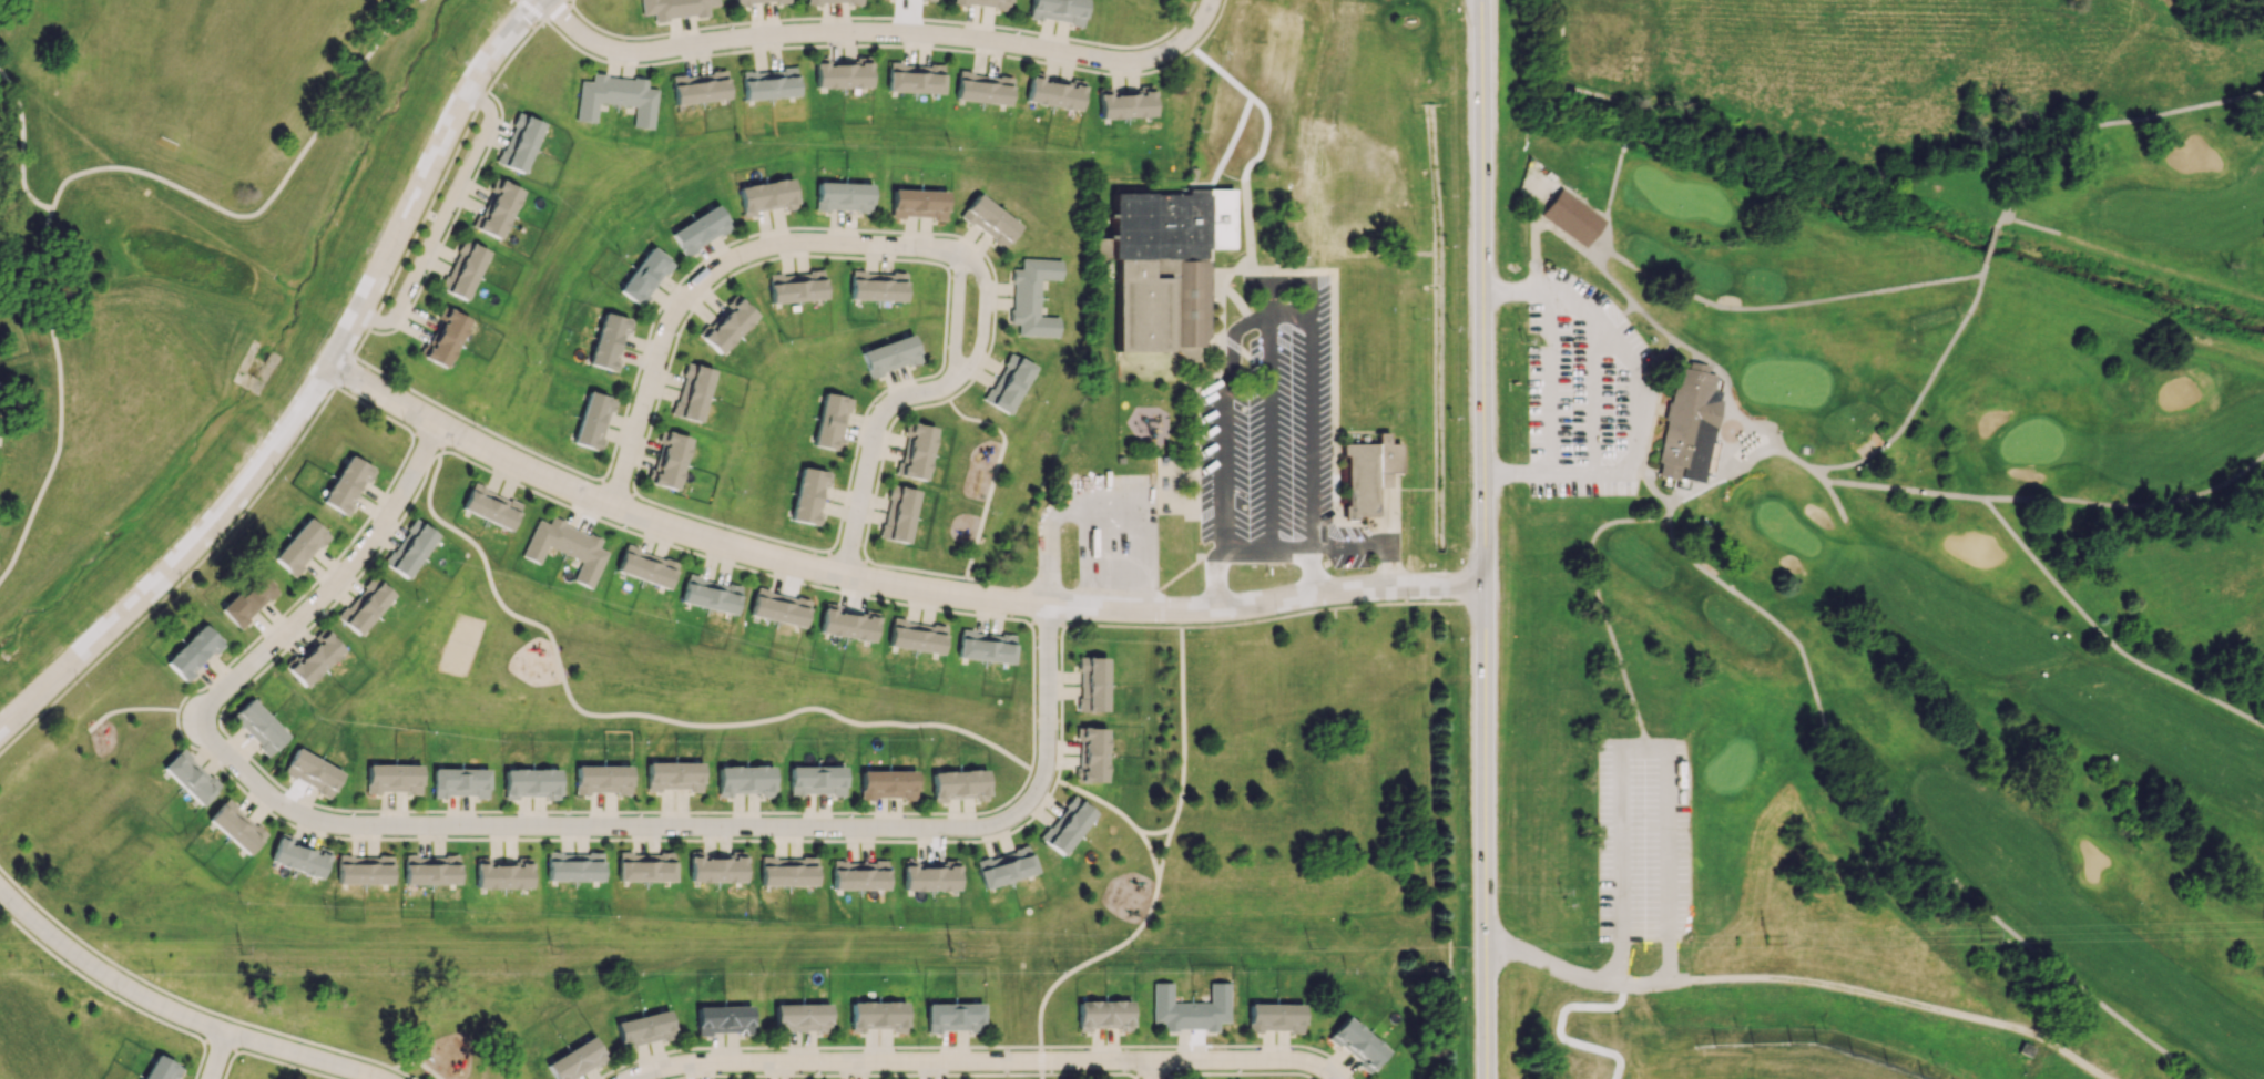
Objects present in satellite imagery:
building: (930, 0)
building: (757, 1)
building: (833, 1)
building: (982, 3)
building: (675, 8)
road: (531, 10)
road: (555, 10)
building: (1057, 10)
road: (885, 17)
road: (883, 31)
road: (894, 45)
park: (201, 72)
building: (1254, 72)
building: (840, 74)
road: (1138, 75)
building: (914, 81)
road: (1557, 82)
building: (768, 83)
building: (698, 88)
building: (982, 88)
road: (1225, 91)
building: (1053, 93)
building: (616, 97)
building: (1125, 104)
road: (2114, 121)
road: (1626, 135)
road: (21, 143)
building: (518, 144)
building: (1190, 173)
road: (424, 175)
road: (439, 182)
building: (765, 196)
building: (842, 196)
road: (263, 203)
building: (917, 203)
road: (1605, 203)
building: (494, 212)
building: (1570, 218)
road: (439, 219)
road: (1999, 219)
building: (988, 220)
road: (2029, 224)
road: (794, 227)
building: (698, 229)
road: (1989, 244)
road: (1601, 245)
road: (1248, 250)
road: (1533, 250)
building: (1162, 267)
road: (710, 269)
building: (462, 274)
building: (644, 276)
road: (1609, 278)
road: (1294, 280)
building: (876, 286)
building: (795, 287)
road: (1507, 290)
road: (1541, 291)
building: (1032, 297)
road: (1727, 297)
road: (1794, 302)
road: (1289, 312)
road: (1618, 315)
road: (956, 320)
road: (1652, 321)
road: (982, 322)
building: (726, 325)
building: (442, 339)
building: (609, 341)
road: (1233, 342)
building: (889, 356)
road: (1656, 358)
road: (1712, 367)
road: (1335, 368)
road: (343, 370)
road: (973, 370)
road: (1549, 382)
building: (1008, 383)
building: (692, 392)
parking lot: (1585, 393)
road: (1591, 393)
road: (1917, 395)
road: (59, 397)
road: (1636, 399)
road: (374, 408)
building: (592, 420)
building: (830, 421)
road: (1757, 423)
building: (1684, 425)
road: (1268, 433)
road: (1311, 436)
road: (425, 441)
road: (1716, 442)
parking lot: (1275, 448)
building: (917, 451)
road: (868, 455)
road: (1791, 455)
building: (669, 460)
road: (1742, 464)
road: (1222, 472)
road: (993, 473)
road: (1516, 473)
road: (1816, 473)
building: (1364, 476)
building: (346, 484)
road: (1649, 484)
road: (582, 487)
road: (614, 489)
road: (1903, 489)
road: (1686, 491)
building: (808, 495)
road: (1835, 502)
road: (2129, 504)
building: (489, 506)
road: (869, 508)
road: (574, 510)
road: (1391, 510)
building: (898, 513)
park: (1891, 516)
parking lot: (1110, 526)
road: (1347, 534)
road: (1482, 538)
building: (299, 546)
road: (1350, 546)
building: (565, 547)
building: (409, 548)
road: (1265, 554)
road: (702, 555)
road: (177, 557)
road: (1390, 565)
building: (645, 566)
road: (1185, 566)
road: (1309, 573)
road: (976, 578)
road: (181, 580)
road: (1213, 580)
road: (884, 583)
road: (332, 585)
road: (986, 589)
building: (708, 594)
building: (247, 599)
road: (1599, 603)
building: (365, 605)
road: (1161, 605)
building: (778, 607)
road: (1330, 607)
road: (982, 608)
road: (1006, 617)
road: (1047, 621)
road: (1031, 623)
building: (846, 624)
road: (981, 624)
road: (1162, 624)
road: (1061, 625)
road: (1171, 627)
road: (2103, 635)
building: (916, 636)
park: (459, 645)
building: (985, 646)
building: (193, 652)
building: (313, 658)
road: (1047, 668)
building: (1091, 684)
road: (1060, 692)
road: (130, 708)
road: (652, 716)
building: (257, 727)
road: (1181, 729)
road: (1643, 751)
building: (1092, 753)
road: (1060, 763)
building: (312, 772)
building: (673, 775)
building: (190, 777)
building: (392, 778)
building: (601, 779)
building: (744, 780)
building: (815, 780)
building: (459, 782)
building: (530, 782)
building: (886, 784)
building: (958, 784)
road: (1100, 800)
road: (513, 810)
road: (970, 813)
road: (1898, 822)
building: (1067, 825)
building: (235, 826)
road: (589, 826)
road: (1154, 832)
road: (376, 837)
road: (1002, 837)
parking lot: (1643, 837)
road: (1150, 851)
road: (1162, 851)
building: (299, 856)
building: (573, 866)
building: (644, 866)
building: (1004, 866)
building: (715, 867)
building: (364, 870)
building: (430, 870)
building: (786, 871)
building: (501, 874)
building: (858, 875)
building: (929, 876)
power tower: (2186, 933)
power tower: (1771, 943)
power tower: (1149, 947)
power tower: (950, 949)
power tower: (1457, 949)
power tower: (237, 953)
power tower: (555, 955)
road: (1092, 958)
road: (1618, 958)
road: (1669, 959)
road: (1547, 960)
road: (1639, 982)
road: (96, 984)
road: (180, 998)
road: (1896, 998)
building: (1190, 1008)
road: (1450, 1008)
road: (176, 1013)
building: (877, 1015)
building: (1103, 1015)
building: (952, 1016)
building: (800, 1017)
building: (1274, 1017)
building: (722, 1019)
road: (1563, 1021)
building: (643, 1029)
road: (223, 1044)
building: (1356, 1044)
road: (975, 1047)
road: (217, 1056)
building: (575, 1059)
road: (1040, 1060)
road: (970, 1061)
road: (416, 1062)
building: (160, 1069)
road: (1154, 1070)
road: (402, 1072)
road: (1151, 1072)
road: (1238, 1072)
road: (1088, 1073)
road: (1327, 1073)
road: (854, 1075)
road: (1136, 1075)
road: (1041, 1077)
road: (1134, 1078)

